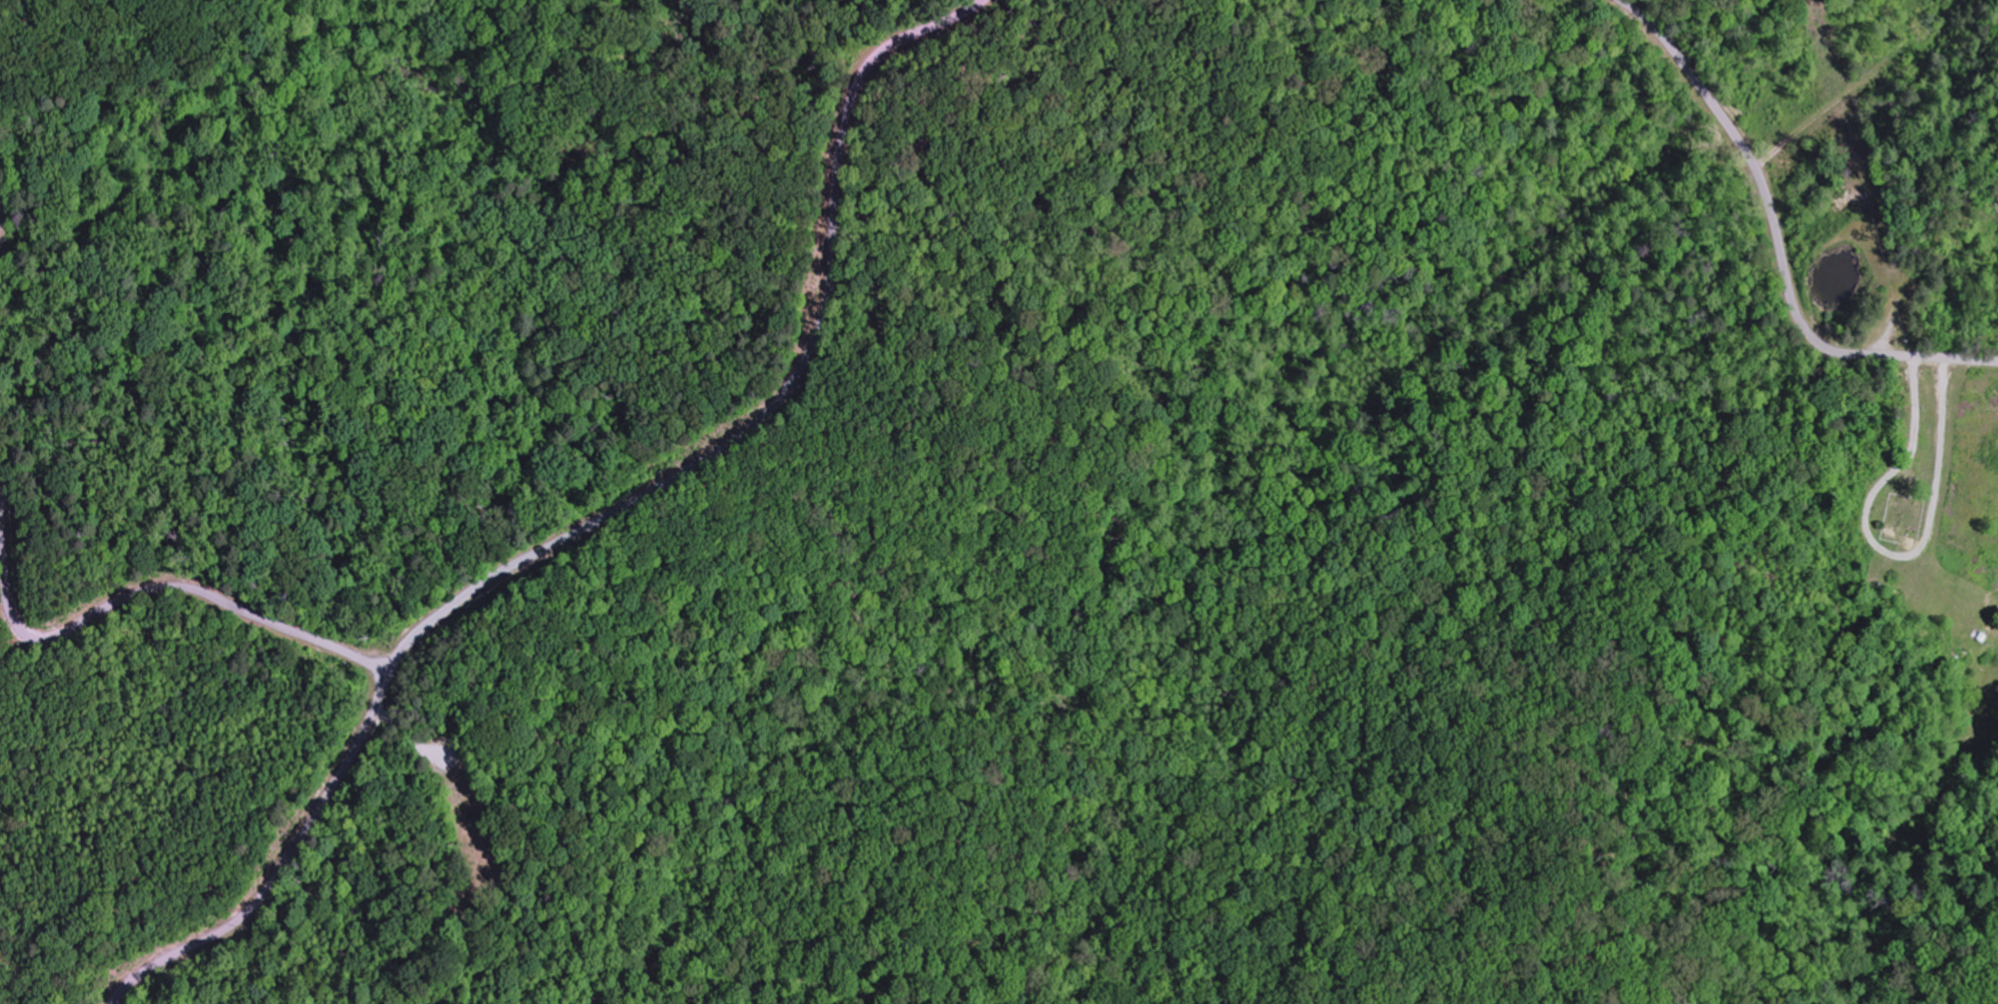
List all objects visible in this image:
road: (1778, 240)
road: (783, 398)
road: (149, 589)
road: (368, 608)
park: (468, 859)
road: (283, 868)

